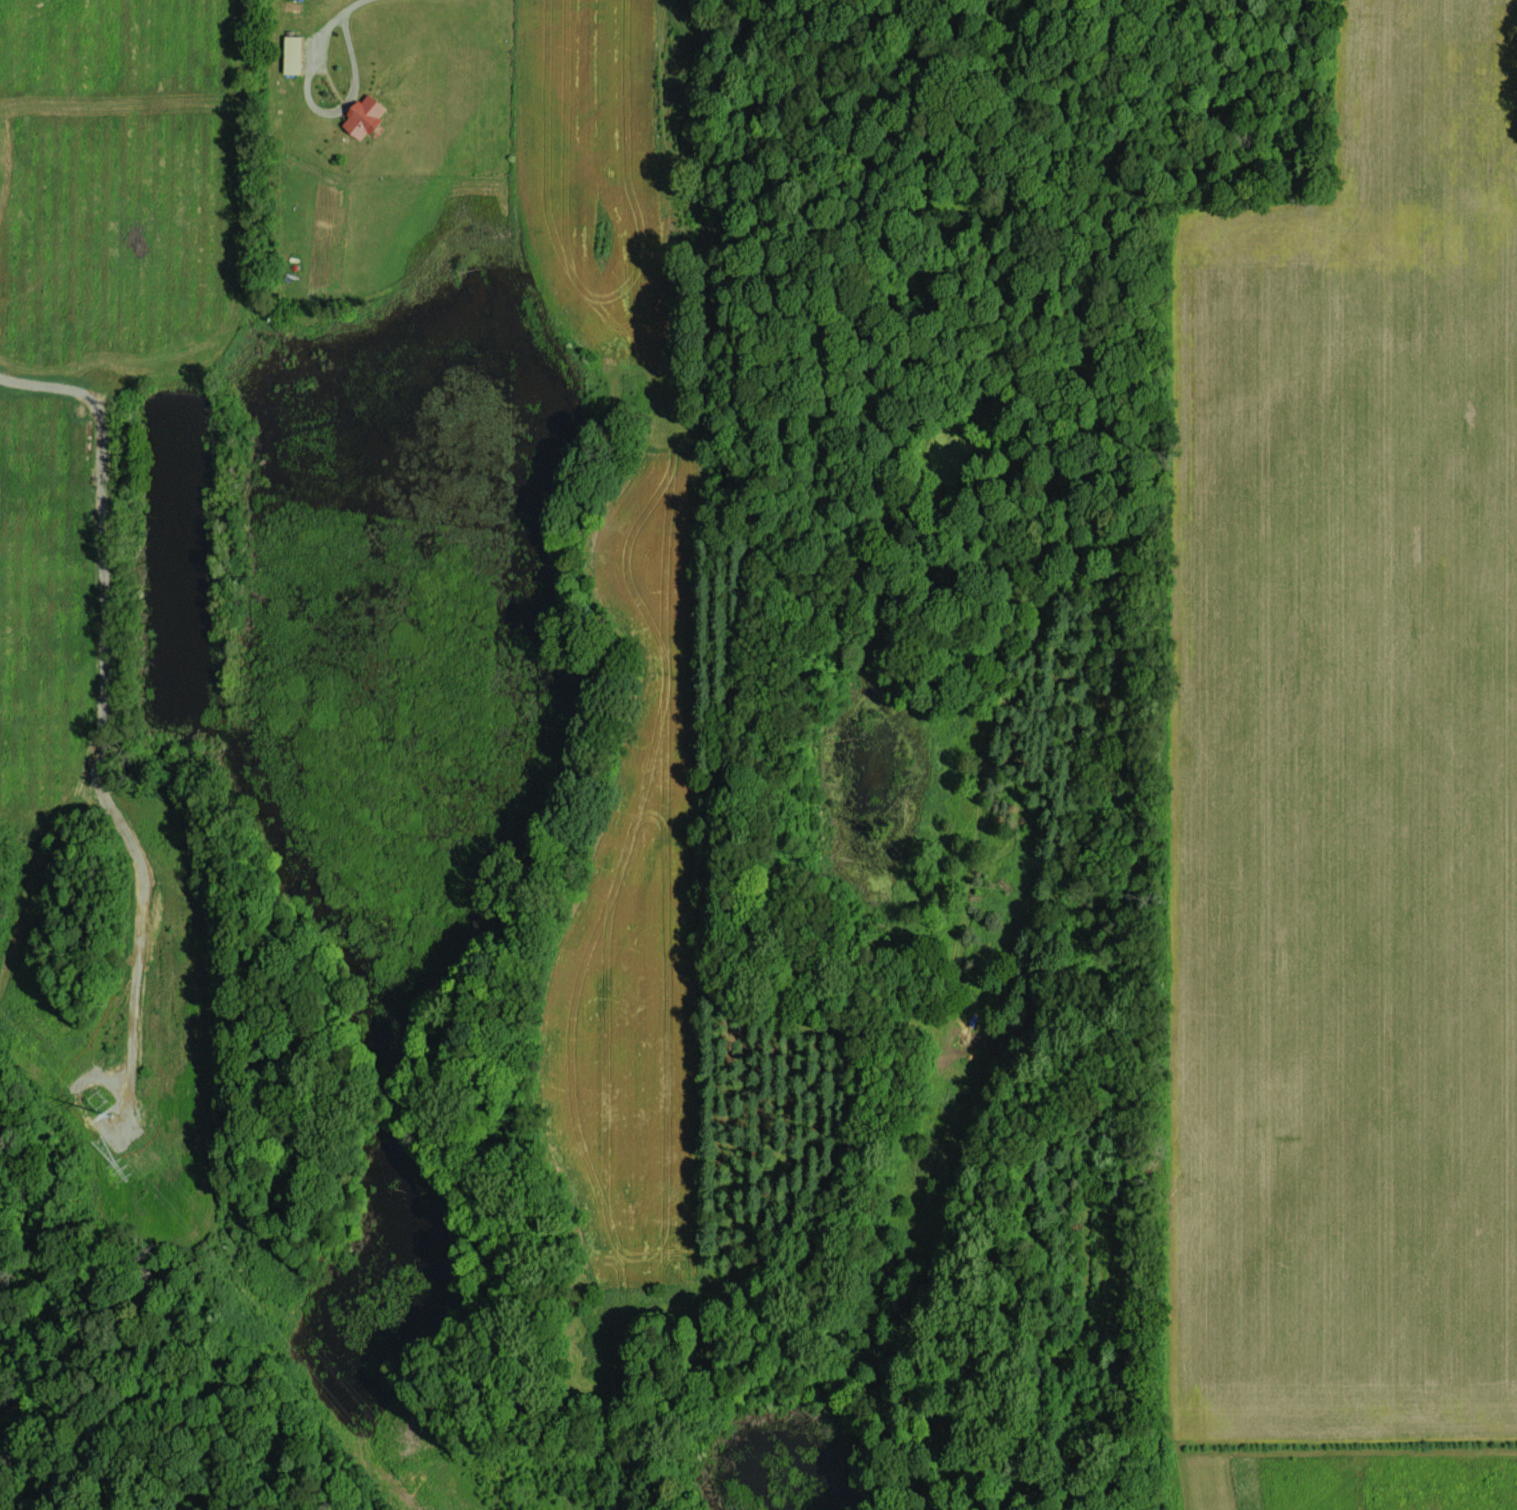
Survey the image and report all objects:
road: (337, 19)
building: (290, 53)
building: (362, 115)
power tower: (102, 1091)

